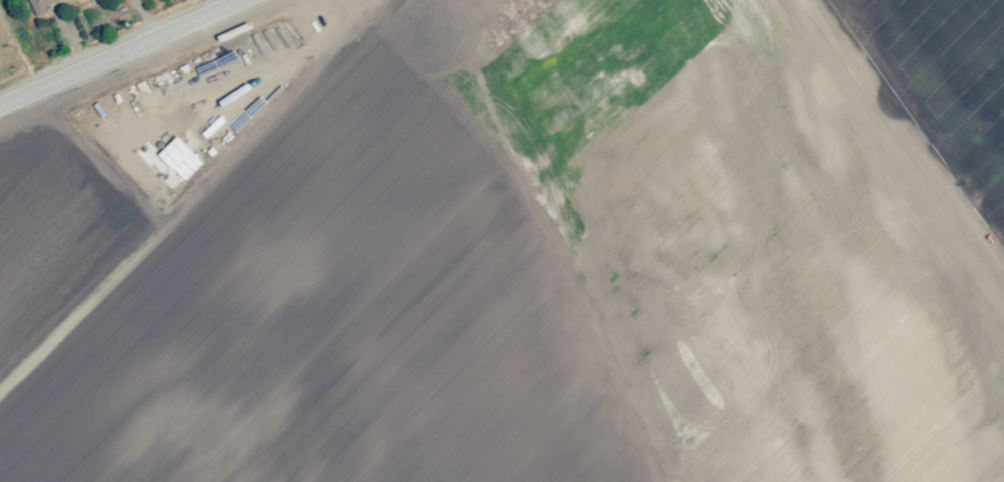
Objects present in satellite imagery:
road: (225, 5)
building: (39, 7)
road: (145, 20)
crop: (93, 39)
road: (126, 55)
crop: (286, 265)

